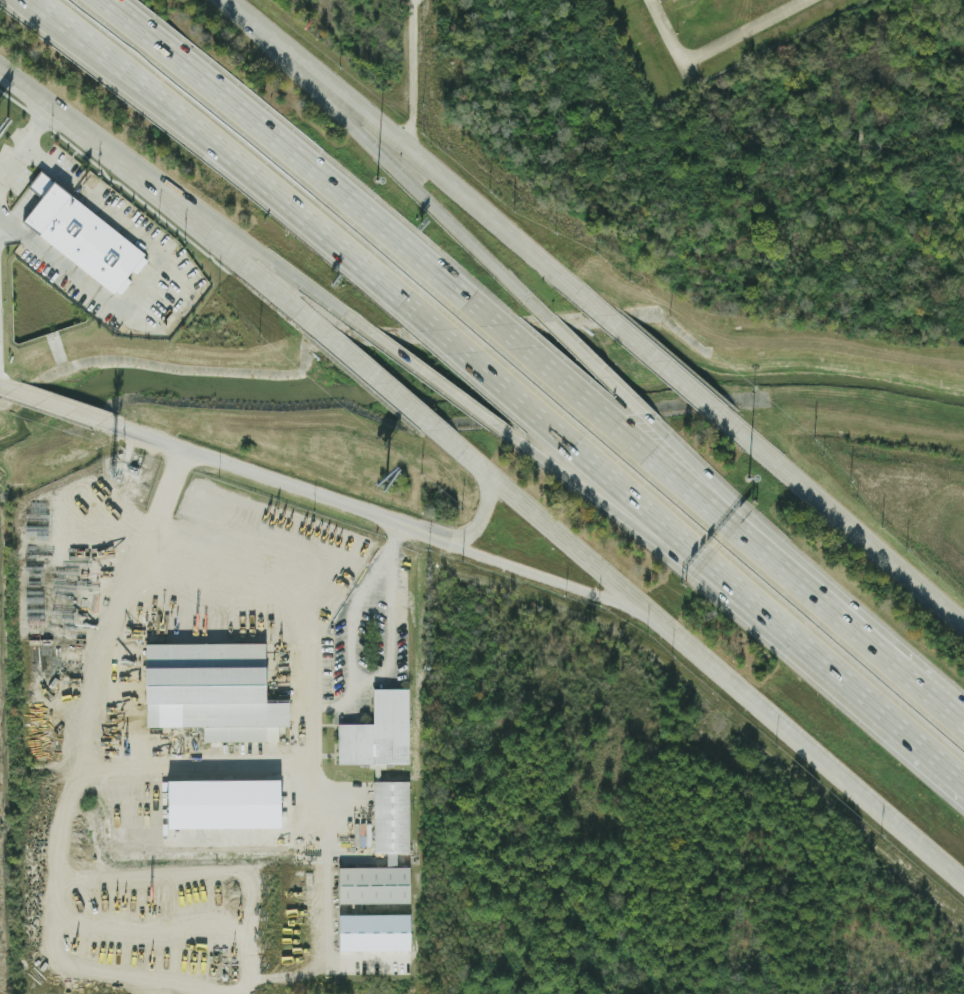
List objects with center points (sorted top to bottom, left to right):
building: (661, 1)
road: (228, 6)
road: (48, 9)
road: (52, 9)
road: (715, 44)
road: (410, 74)
road: (399, 147)
road: (21, 151)
road: (298, 159)
road: (393, 164)
road: (254, 172)
road: (167, 201)
road: (238, 229)
building: (81, 234)
road: (151, 271)
road: (582, 297)
road: (655, 359)
road: (594, 368)
road: (554, 378)
road: (504, 382)
river: (474, 383)
road: (381, 384)
road: (4, 387)
road: (443, 387)
road: (53, 405)
road: (273, 479)
road: (483, 517)
road: (835, 519)
road: (660, 520)
road: (636, 522)
road: (751, 522)
road: (733, 533)
road: (549, 579)
road: (281, 581)
road: (394, 598)
road: (352, 634)
road: (874, 652)
road: (699, 654)
road: (96, 674)
road: (859, 690)
building: (210, 691)
road: (929, 698)
building: (378, 734)
road: (234, 770)
building: (223, 804)
building: (382, 853)
building: (374, 932)

